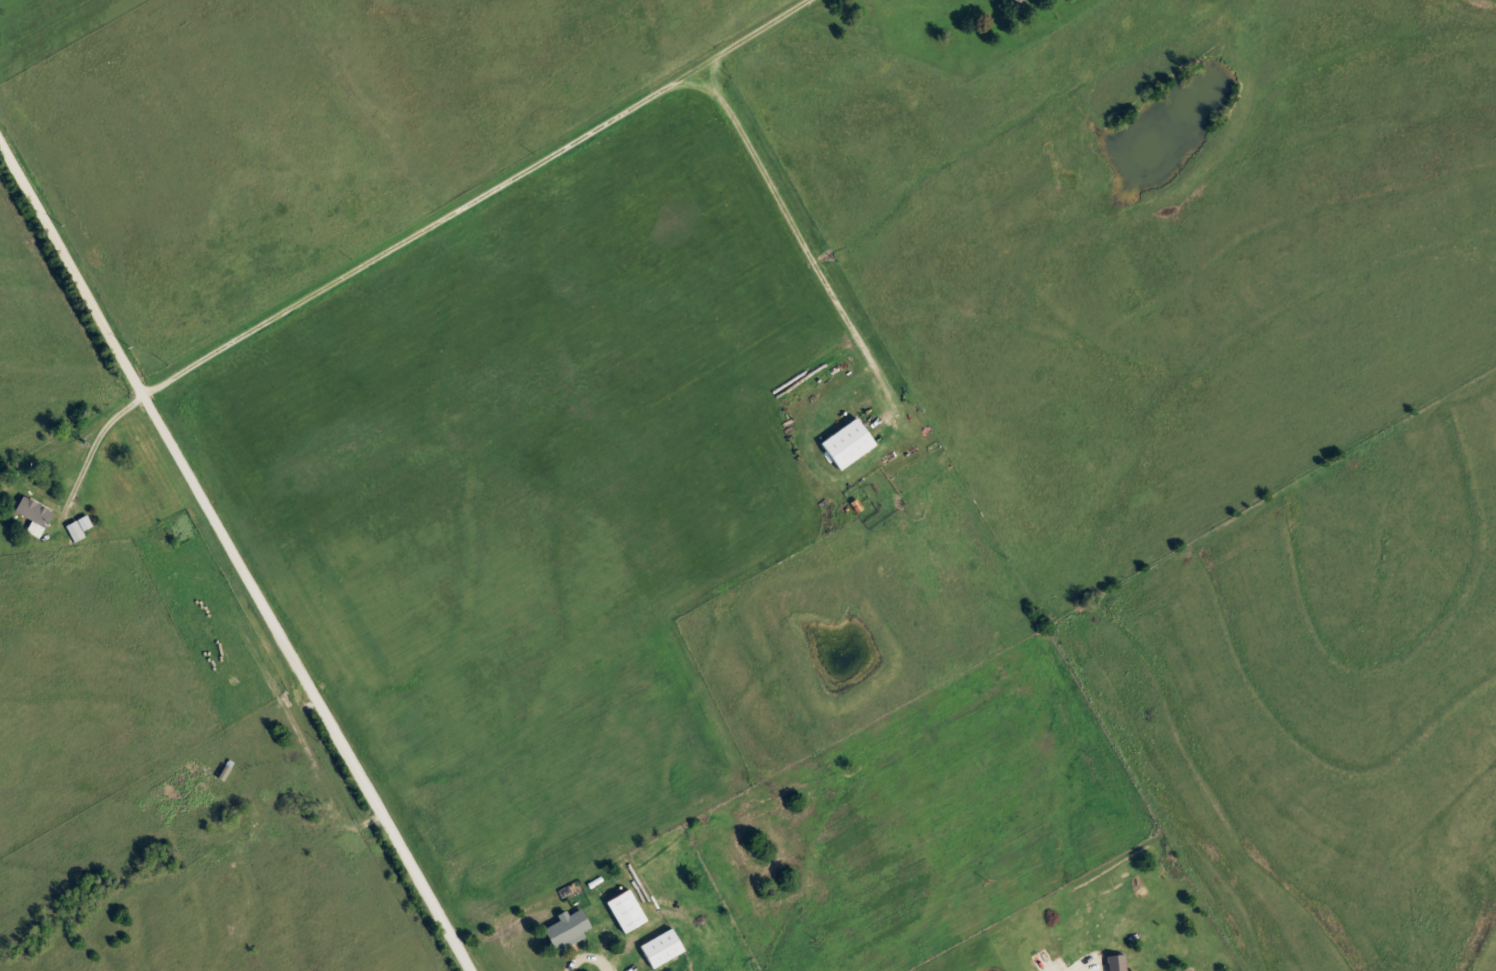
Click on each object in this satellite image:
building: (1014, 1)
road: (797, 229)
road: (400, 235)
building: (129, 430)
building: (840, 442)
building: (35, 513)
road: (234, 554)
building: (220, 770)
road: (330, 773)
building: (558, 929)
road: (530, 946)
building: (657, 946)

